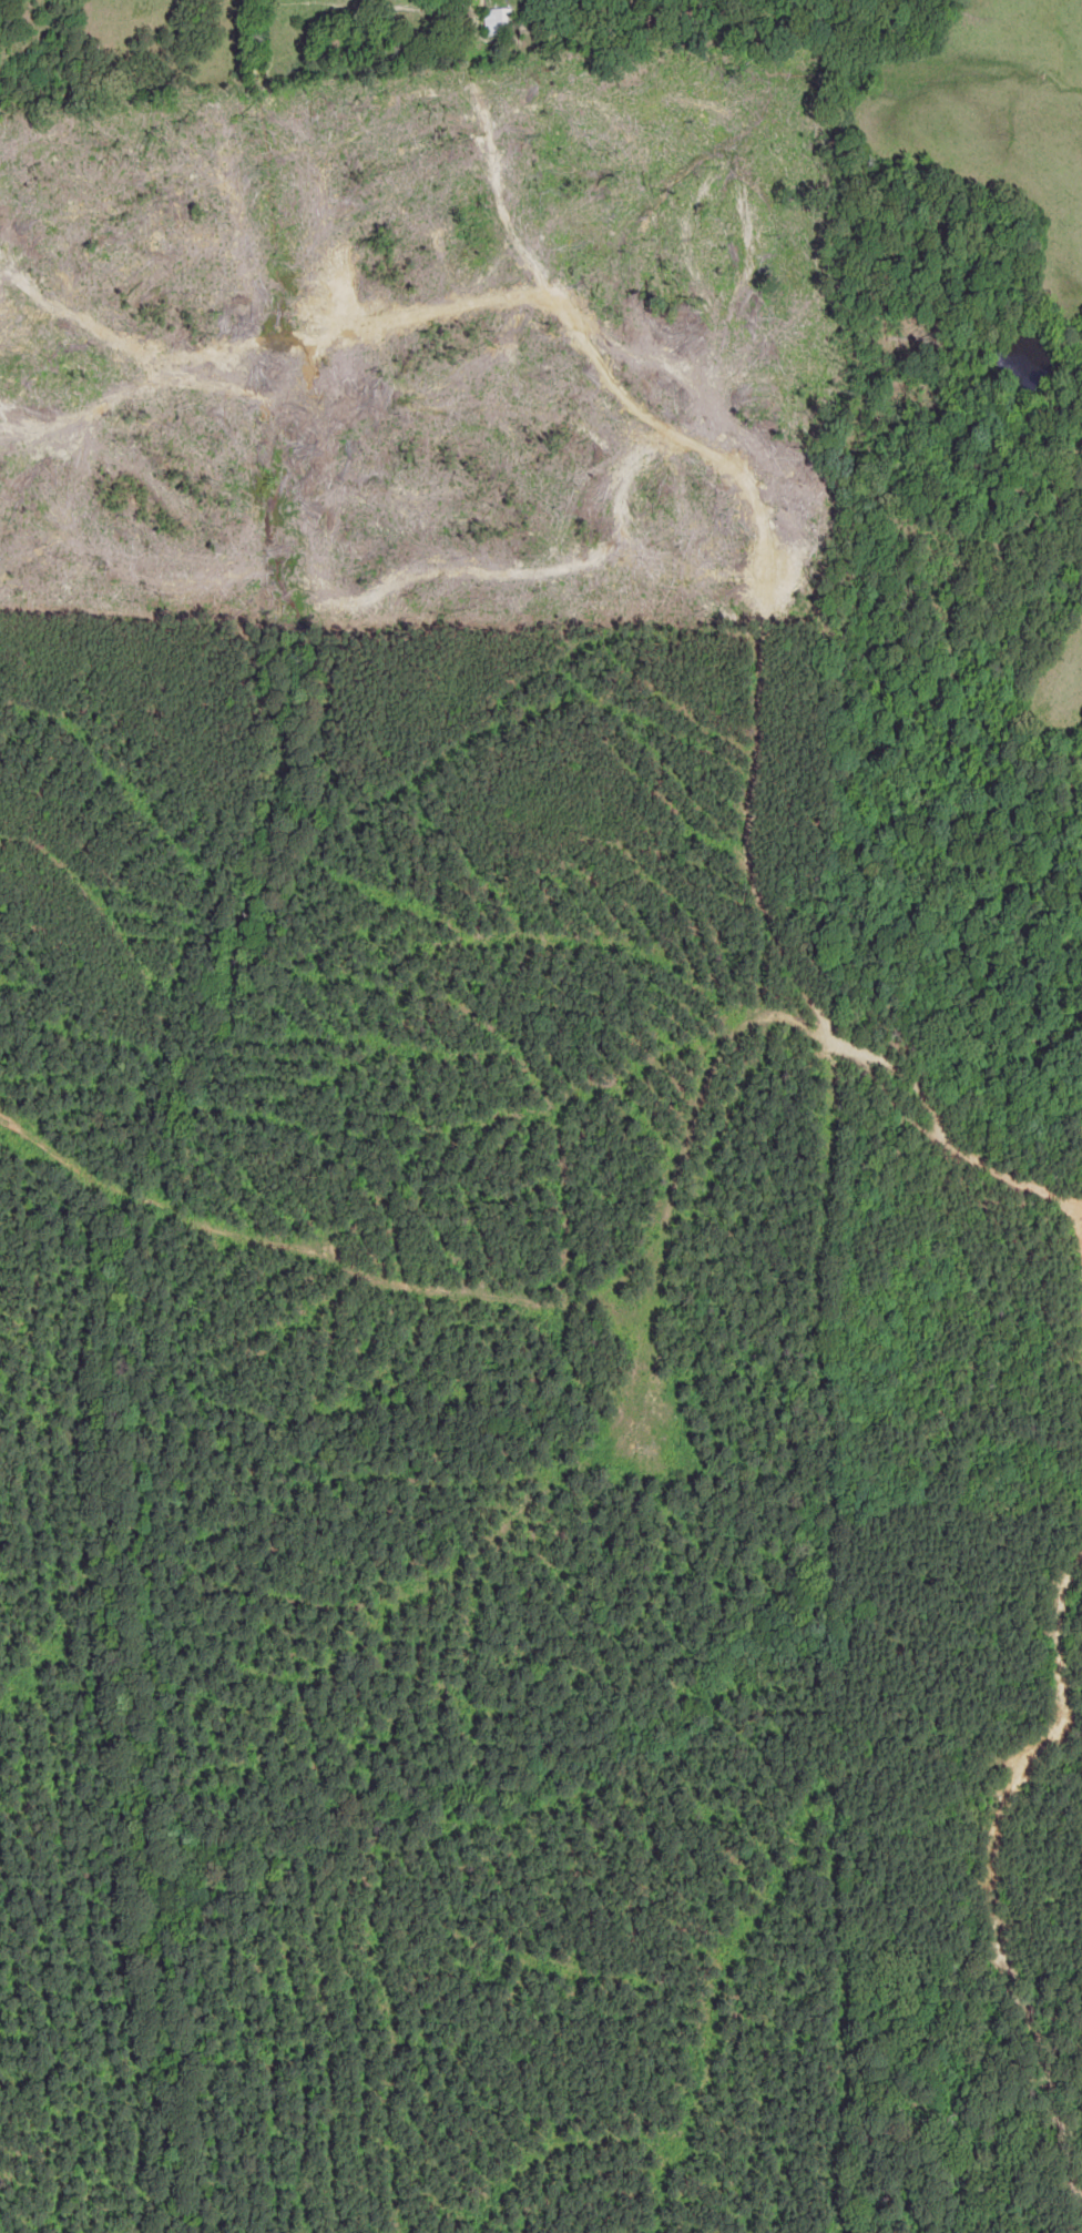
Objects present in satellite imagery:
building: (497, 20)
road: (1034, 2018)

